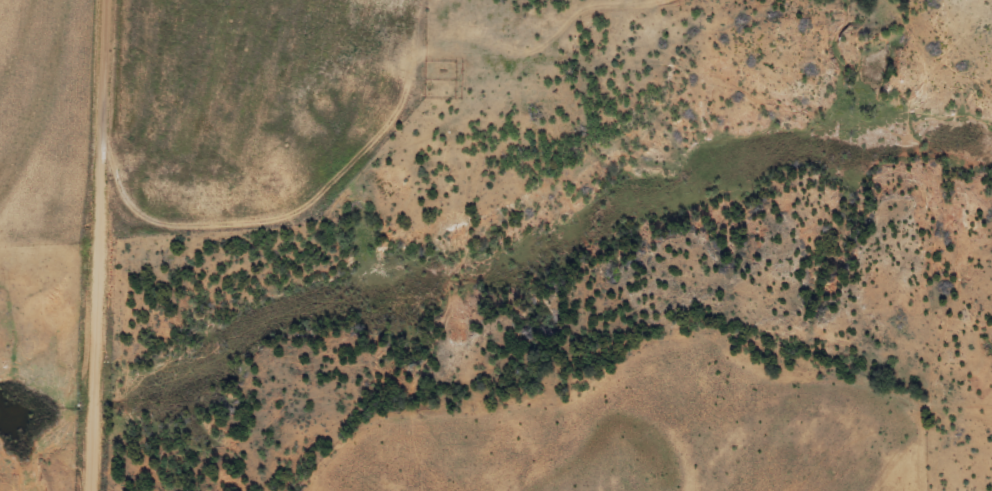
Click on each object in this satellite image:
road: (289, 215)
road: (106, 245)

